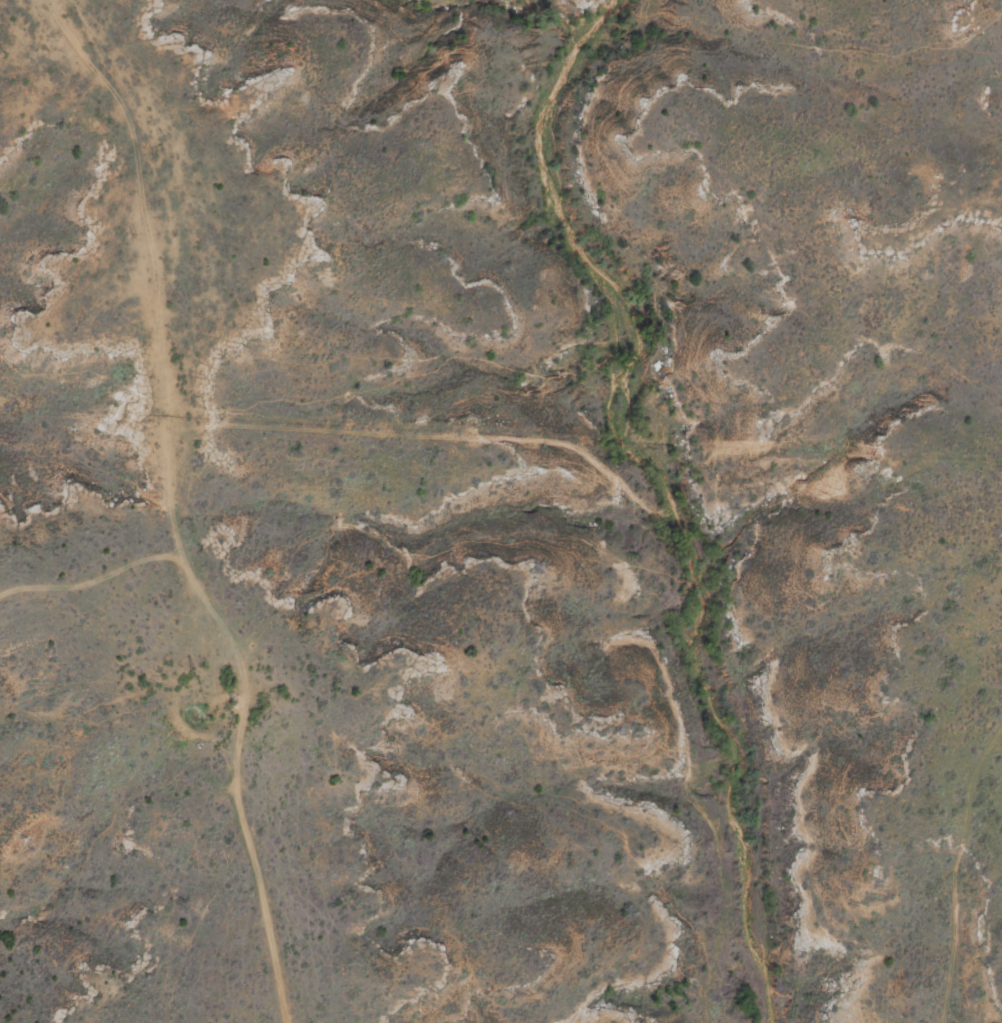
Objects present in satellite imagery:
road: (173, 511)

